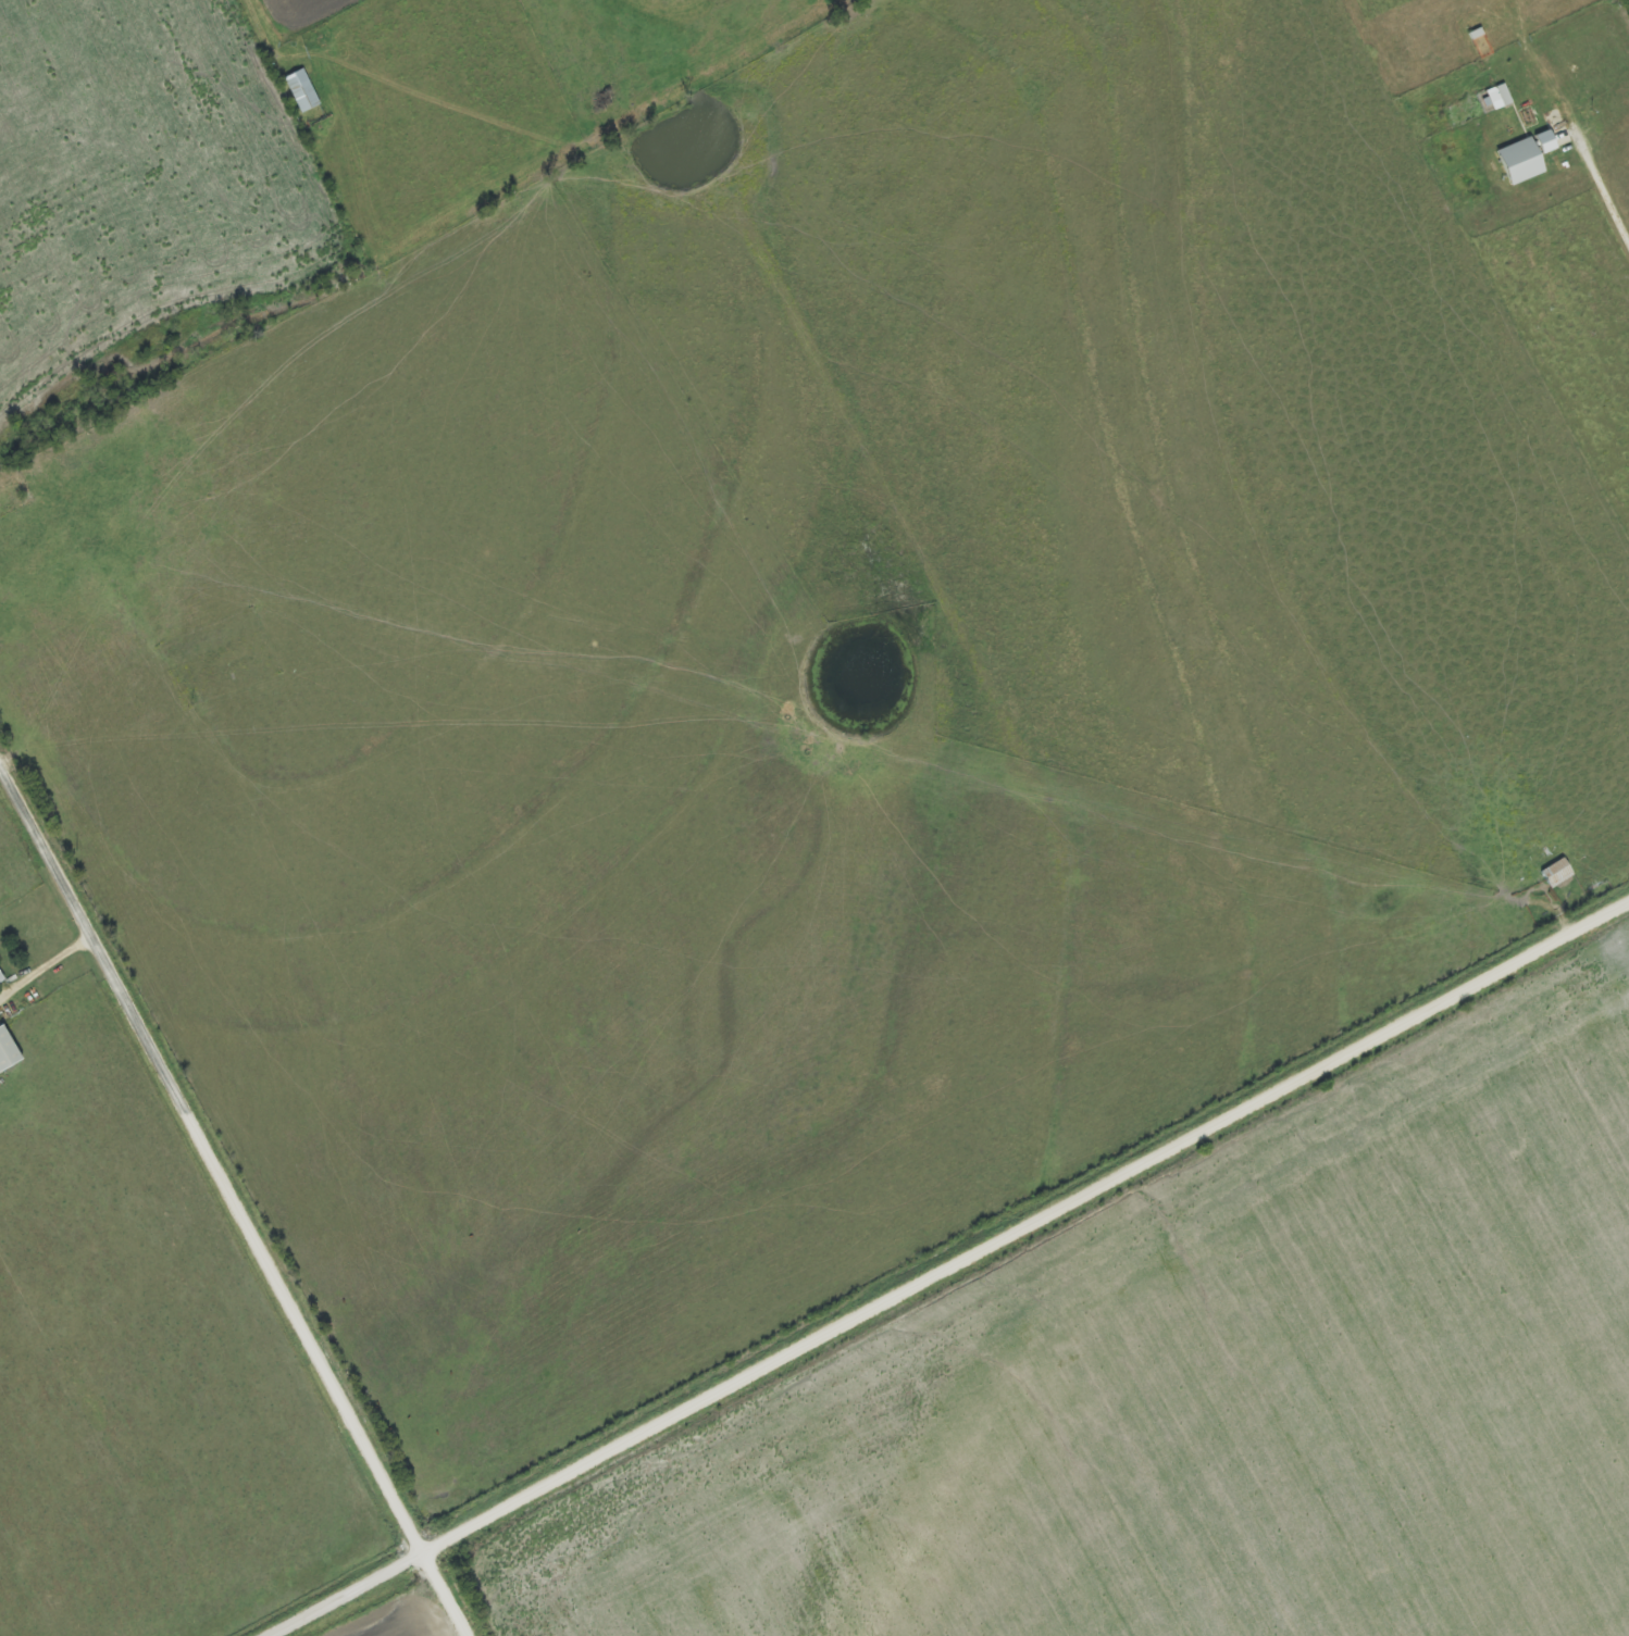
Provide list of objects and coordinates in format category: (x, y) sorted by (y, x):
building: (304, 90)
building: (1495, 97)
building: (1521, 158)
building: (2, 979)
building: (9, 1051)
road: (232, 1201)
road: (956, 1271)

